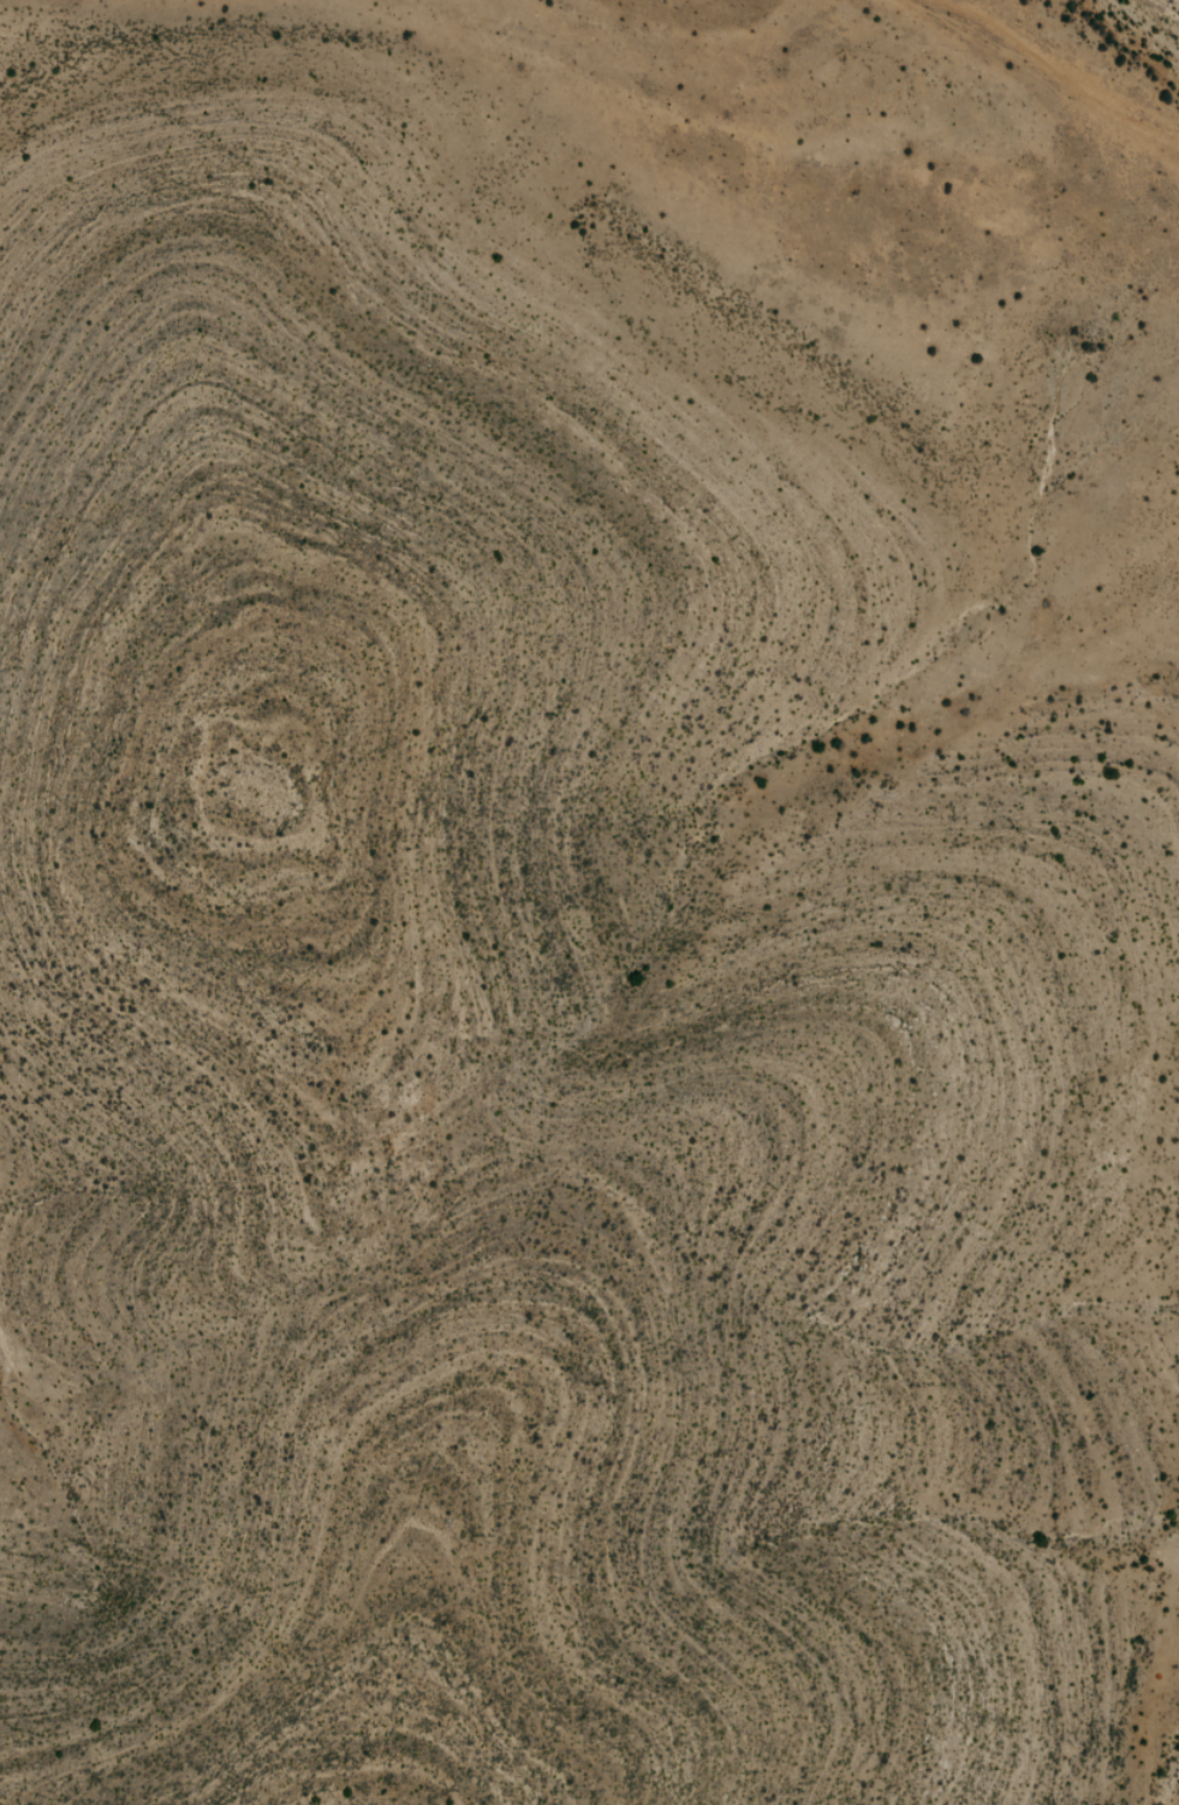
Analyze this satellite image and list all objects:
road: (892, 109)

